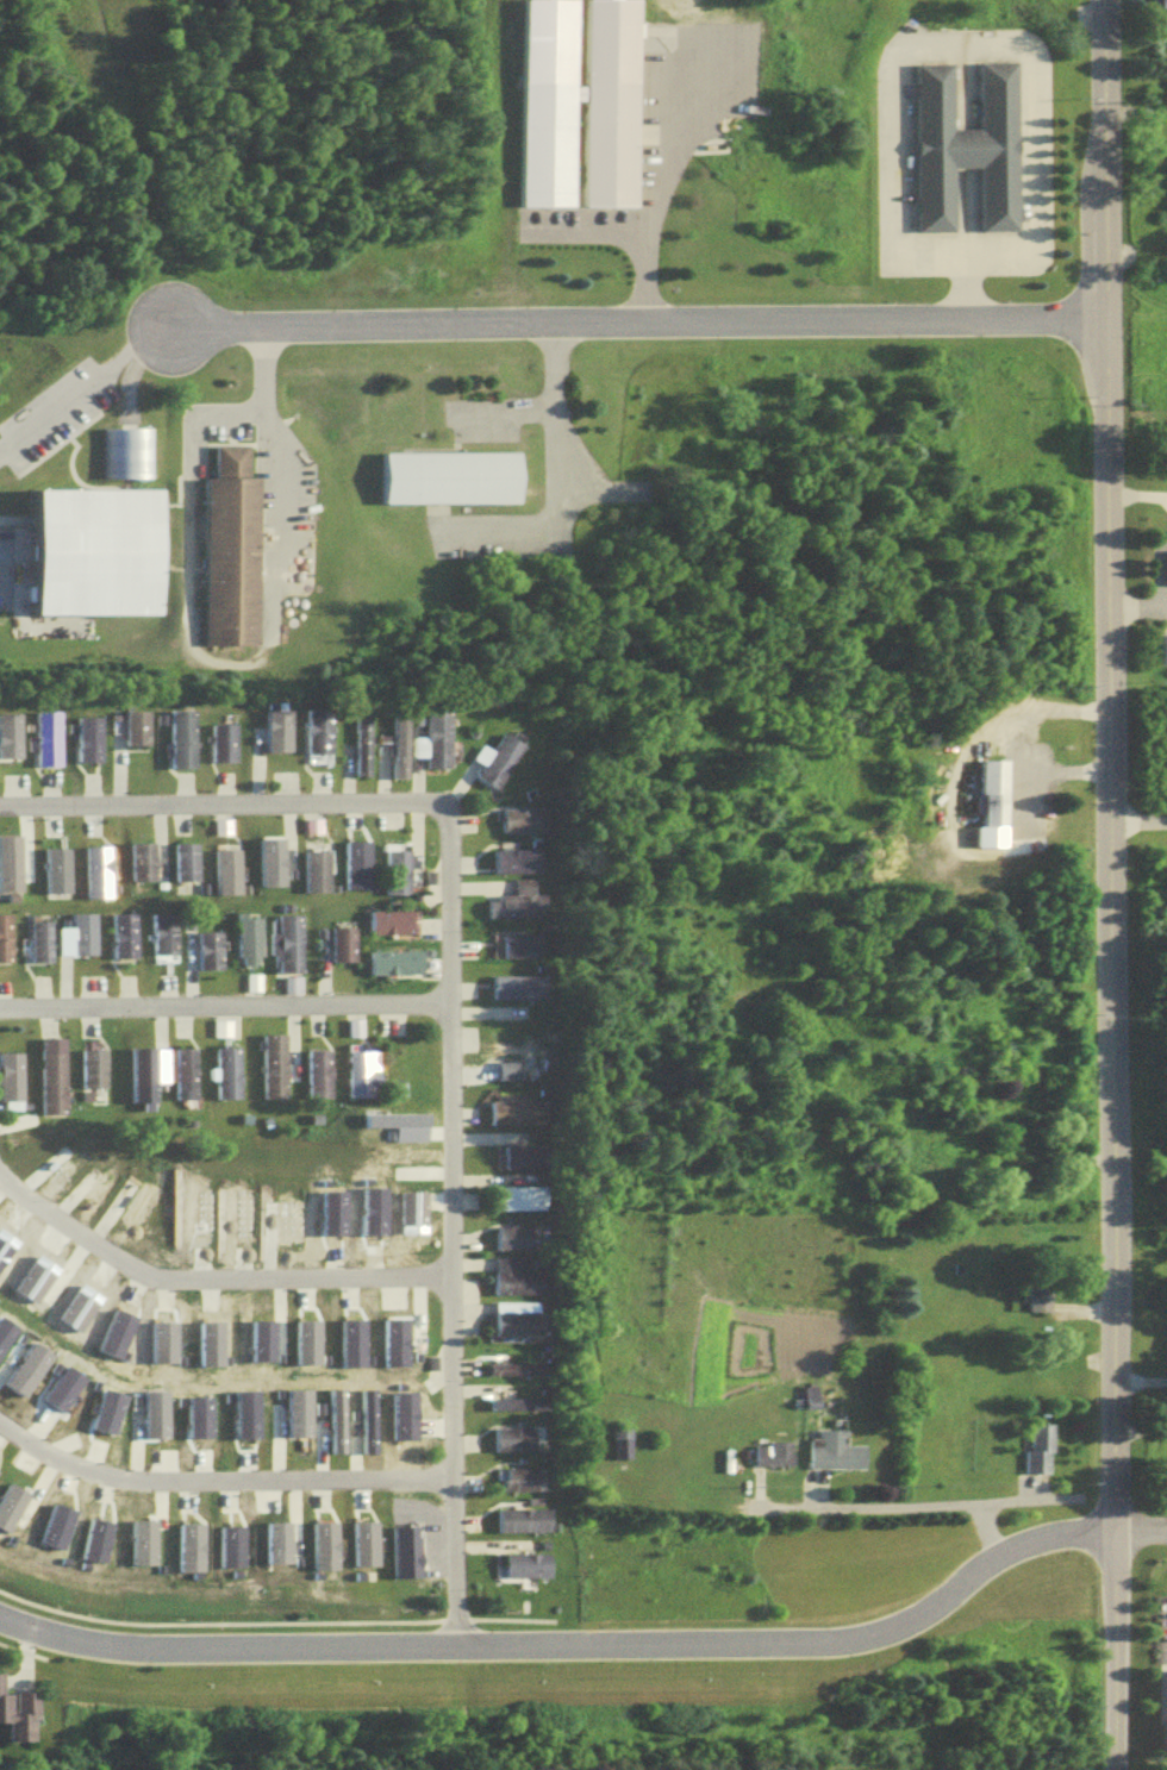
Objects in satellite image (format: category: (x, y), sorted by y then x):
building: (1155, 4)
road: (962, 51)
building: (592, 125)
building: (960, 152)
road: (659, 198)
road: (595, 239)
road: (968, 293)
road: (636, 327)
road: (82, 383)
road: (506, 412)
building: (1166, 470)
road: (551, 471)
building: (455, 483)
building: (237, 556)
building: (108, 557)
building: (1162, 574)
road: (1137, 603)
building: (1165, 656)
road: (236, 667)
building: (135, 725)
building: (274, 727)
building: (316, 727)
building: (8, 732)
building: (433, 733)
building: (46, 737)
building: (88, 737)
building: (180, 737)
building: (220, 740)
building: (357, 742)
building: (394, 743)
road: (1007, 745)
building: (494, 757)
building: (986, 800)
road: (225, 803)
building: (519, 818)
road: (1138, 825)
building: (139, 858)
building: (182, 858)
building: (269, 858)
building: (512, 858)
building: (8, 861)
building: (54, 867)
building: (94, 868)
building: (225, 868)
building: (313, 869)
building: (393, 869)
road: (1111, 884)
building: (513, 905)
building: (386, 919)
building: (399, 928)
building: (81, 930)
building: (161, 931)
building: (121, 932)
building: (4, 936)
building: (246, 937)
building: (39, 939)
building: (287, 940)
building: (339, 942)
building: (518, 944)
building: (207, 947)
building: (392, 959)
building: (514, 986)
road: (670, 995)
road: (220, 1003)
building: (270, 1061)
building: (89, 1065)
building: (181, 1069)
building: (224, 1069)
building: (317, 1070)
building: (357, 1070)
building: (138, 1071)
building: (49, 1072)
building: (8, 1074)
building: (516, 1111)
road: (692, 1128)
building: (528, 1157)
building: (519, 1199)
road: (448, 1236)
building: (513, 1237)
road: (208, 1277)
building: (517, 1277)
building: (1036, 1305)
building: (517, 1324)
building: (430, 1362)
building: (517, 1370)
building: (514, 1376)
road: (1140, 1383)
building: (516, 1403)
building: (512, 1412)
road: (1140, 1436)
building: (513, 1439)
building: (617, 1450)
building: (1034, 1456)
building: (830, 1459)
building: (519, 1462)
building: (768, 1462)
building: (517, 1478)
road: (219, 1480)
road: (987, 1502)
road: (867, 1506)
building: (523, 1521)
building: (96, 1536)
road: (1141, 1537)
building: (142, 1540)
building: (320, 1541)
building: (187, 1543)
building: (229, 1543)
building: (402, 1547)
building: (524, 1564)
road: (570, 1651)
building: (1160, 1719)
building: (21, 1720)

